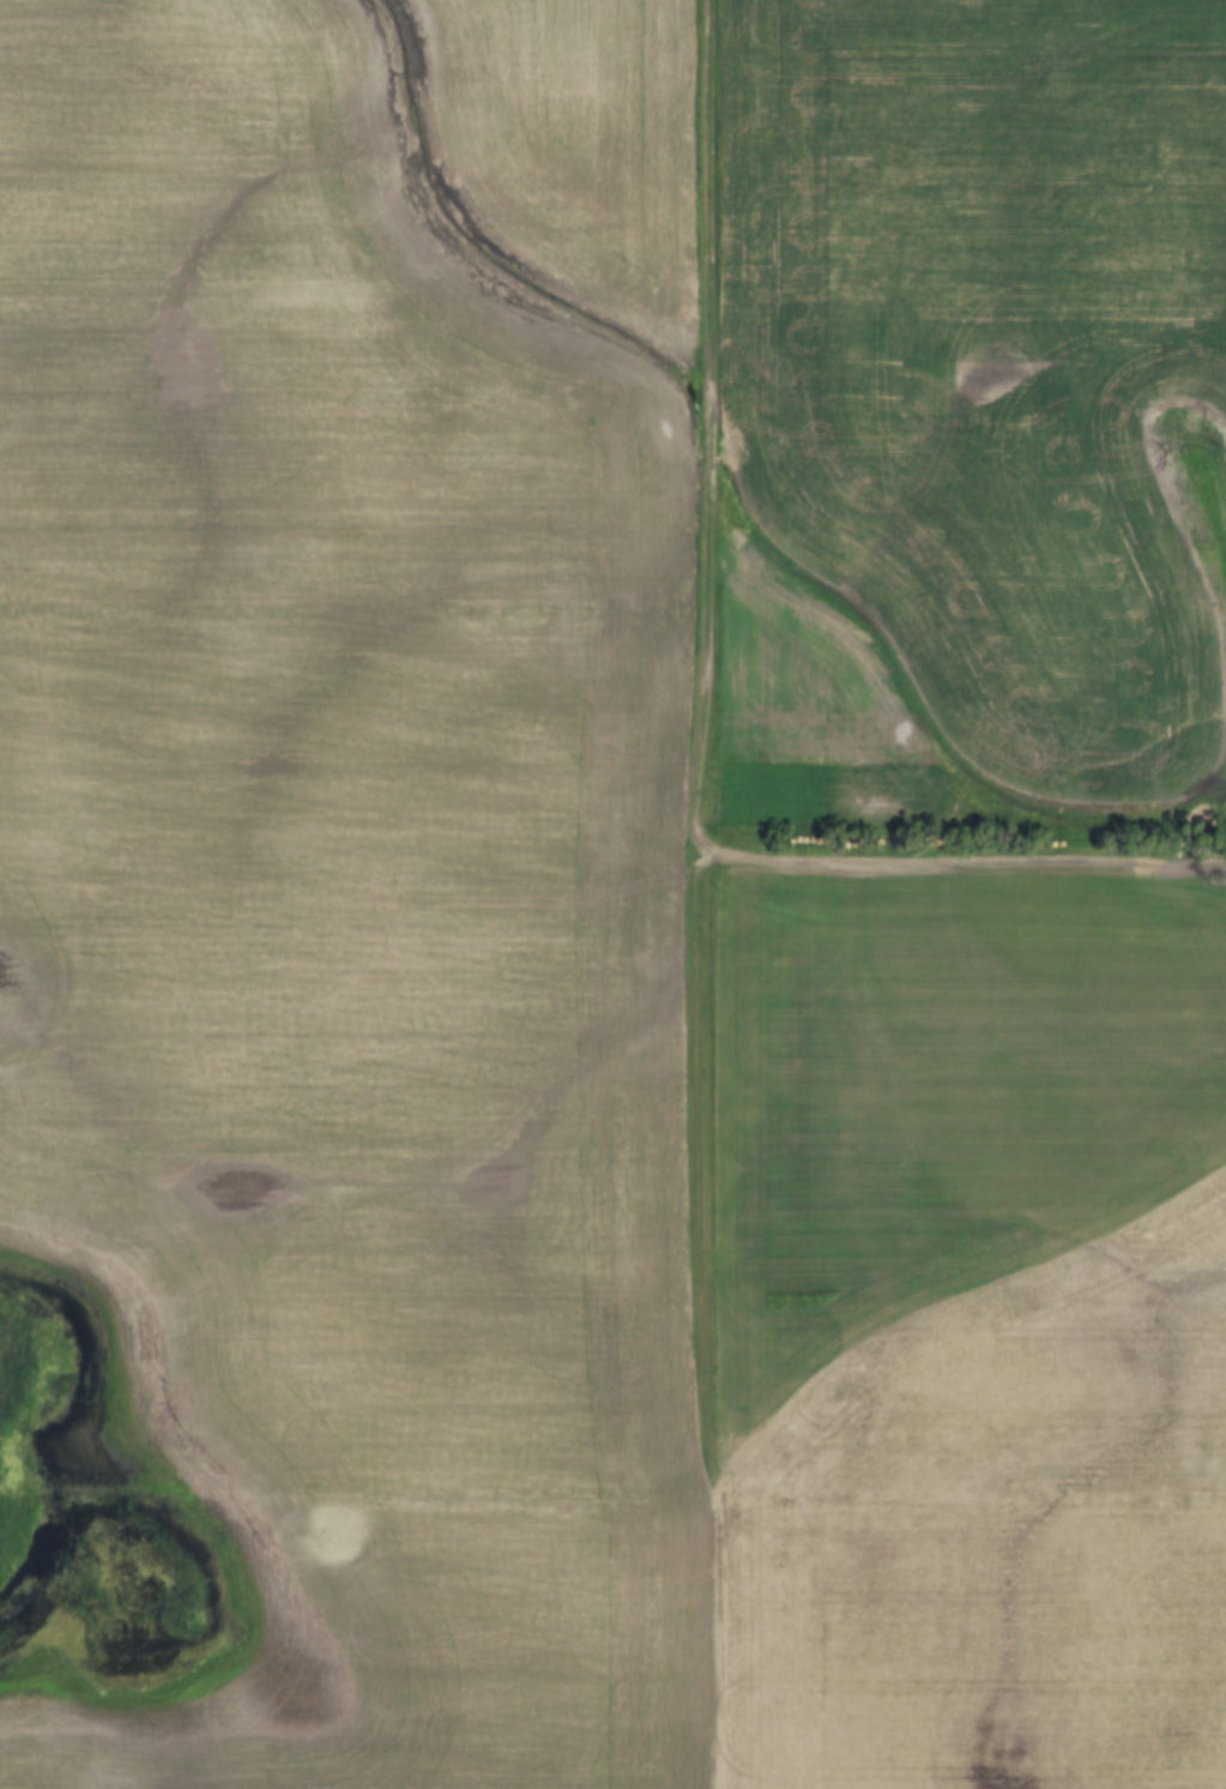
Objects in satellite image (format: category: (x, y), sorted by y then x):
road: (706, 748)
road: (965, 860)

